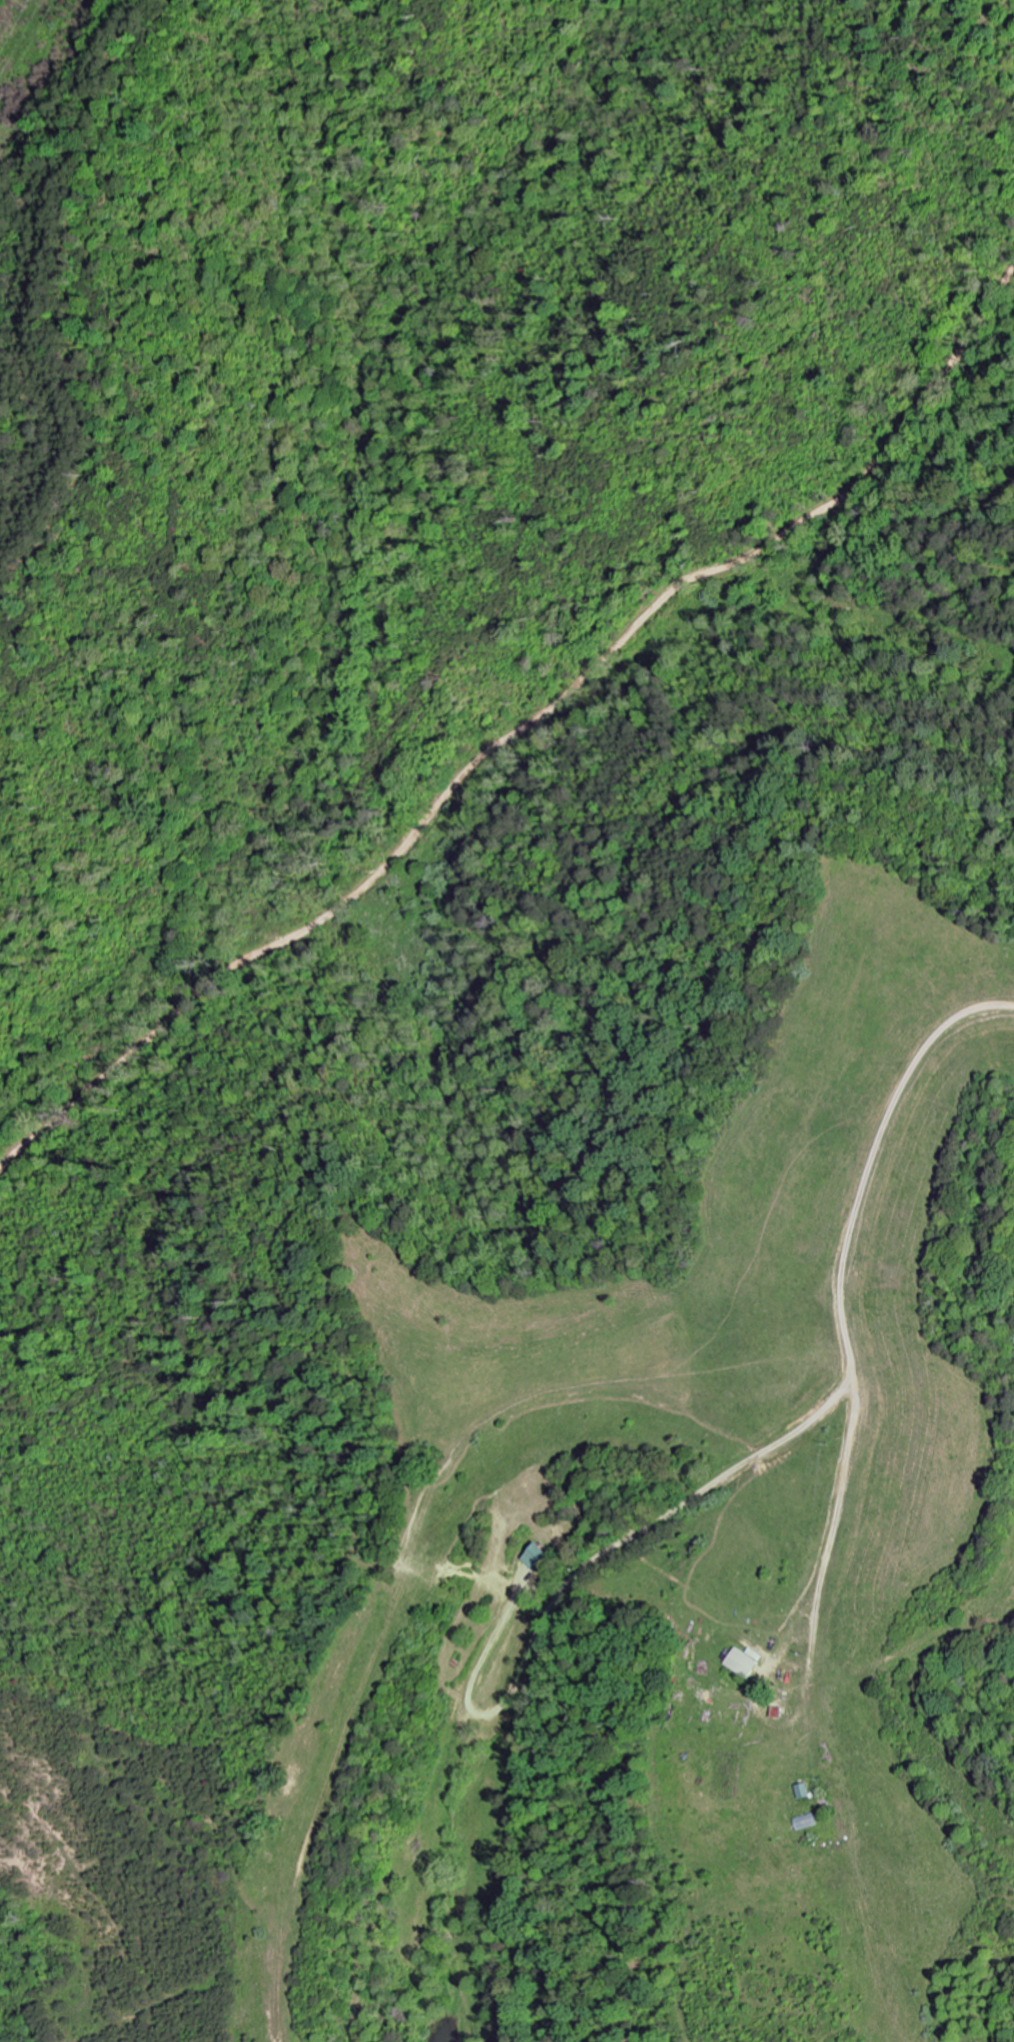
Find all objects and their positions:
road: (521, 731)
building: (540, 1557)
building: (747, 1661)

